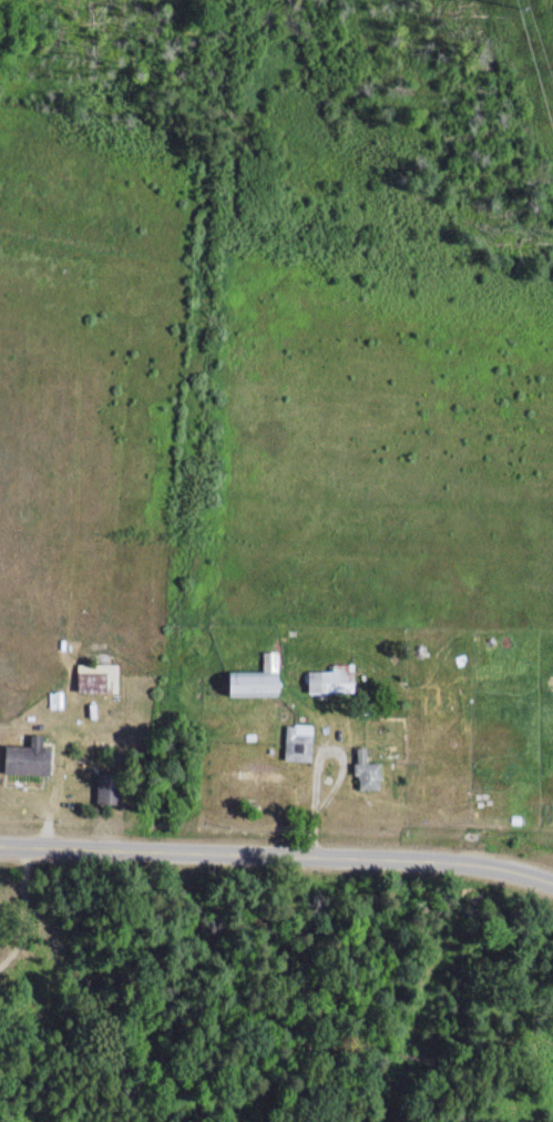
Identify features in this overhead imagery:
building: (94, 679)
building: (253, 681)
building: (328, 682)
building: (295, 746)
building: (25, 758)
building: (365, 772)
building: (107, 788)
road: (277, 855)

